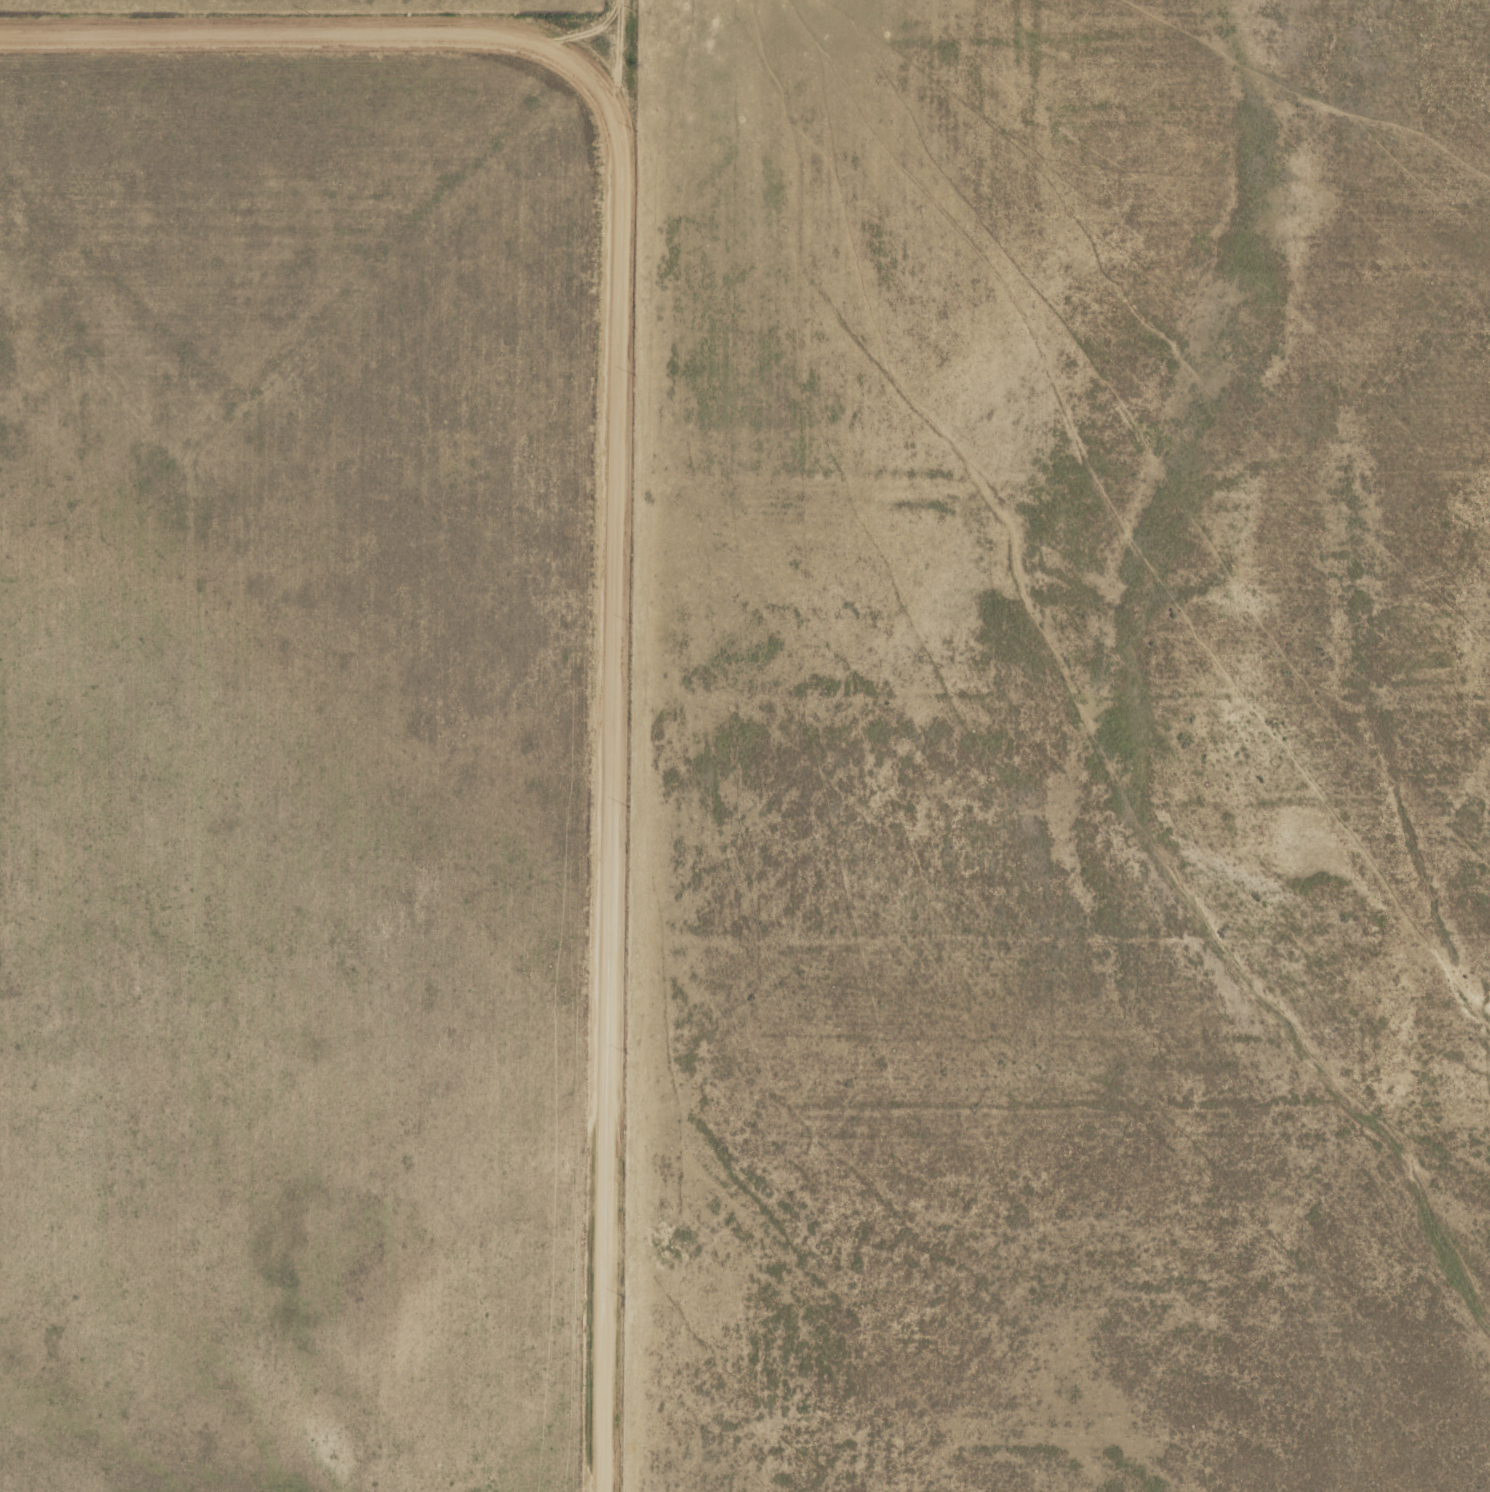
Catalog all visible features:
road: (588, 31)
road: (618, 47)
road: (619, 474)

